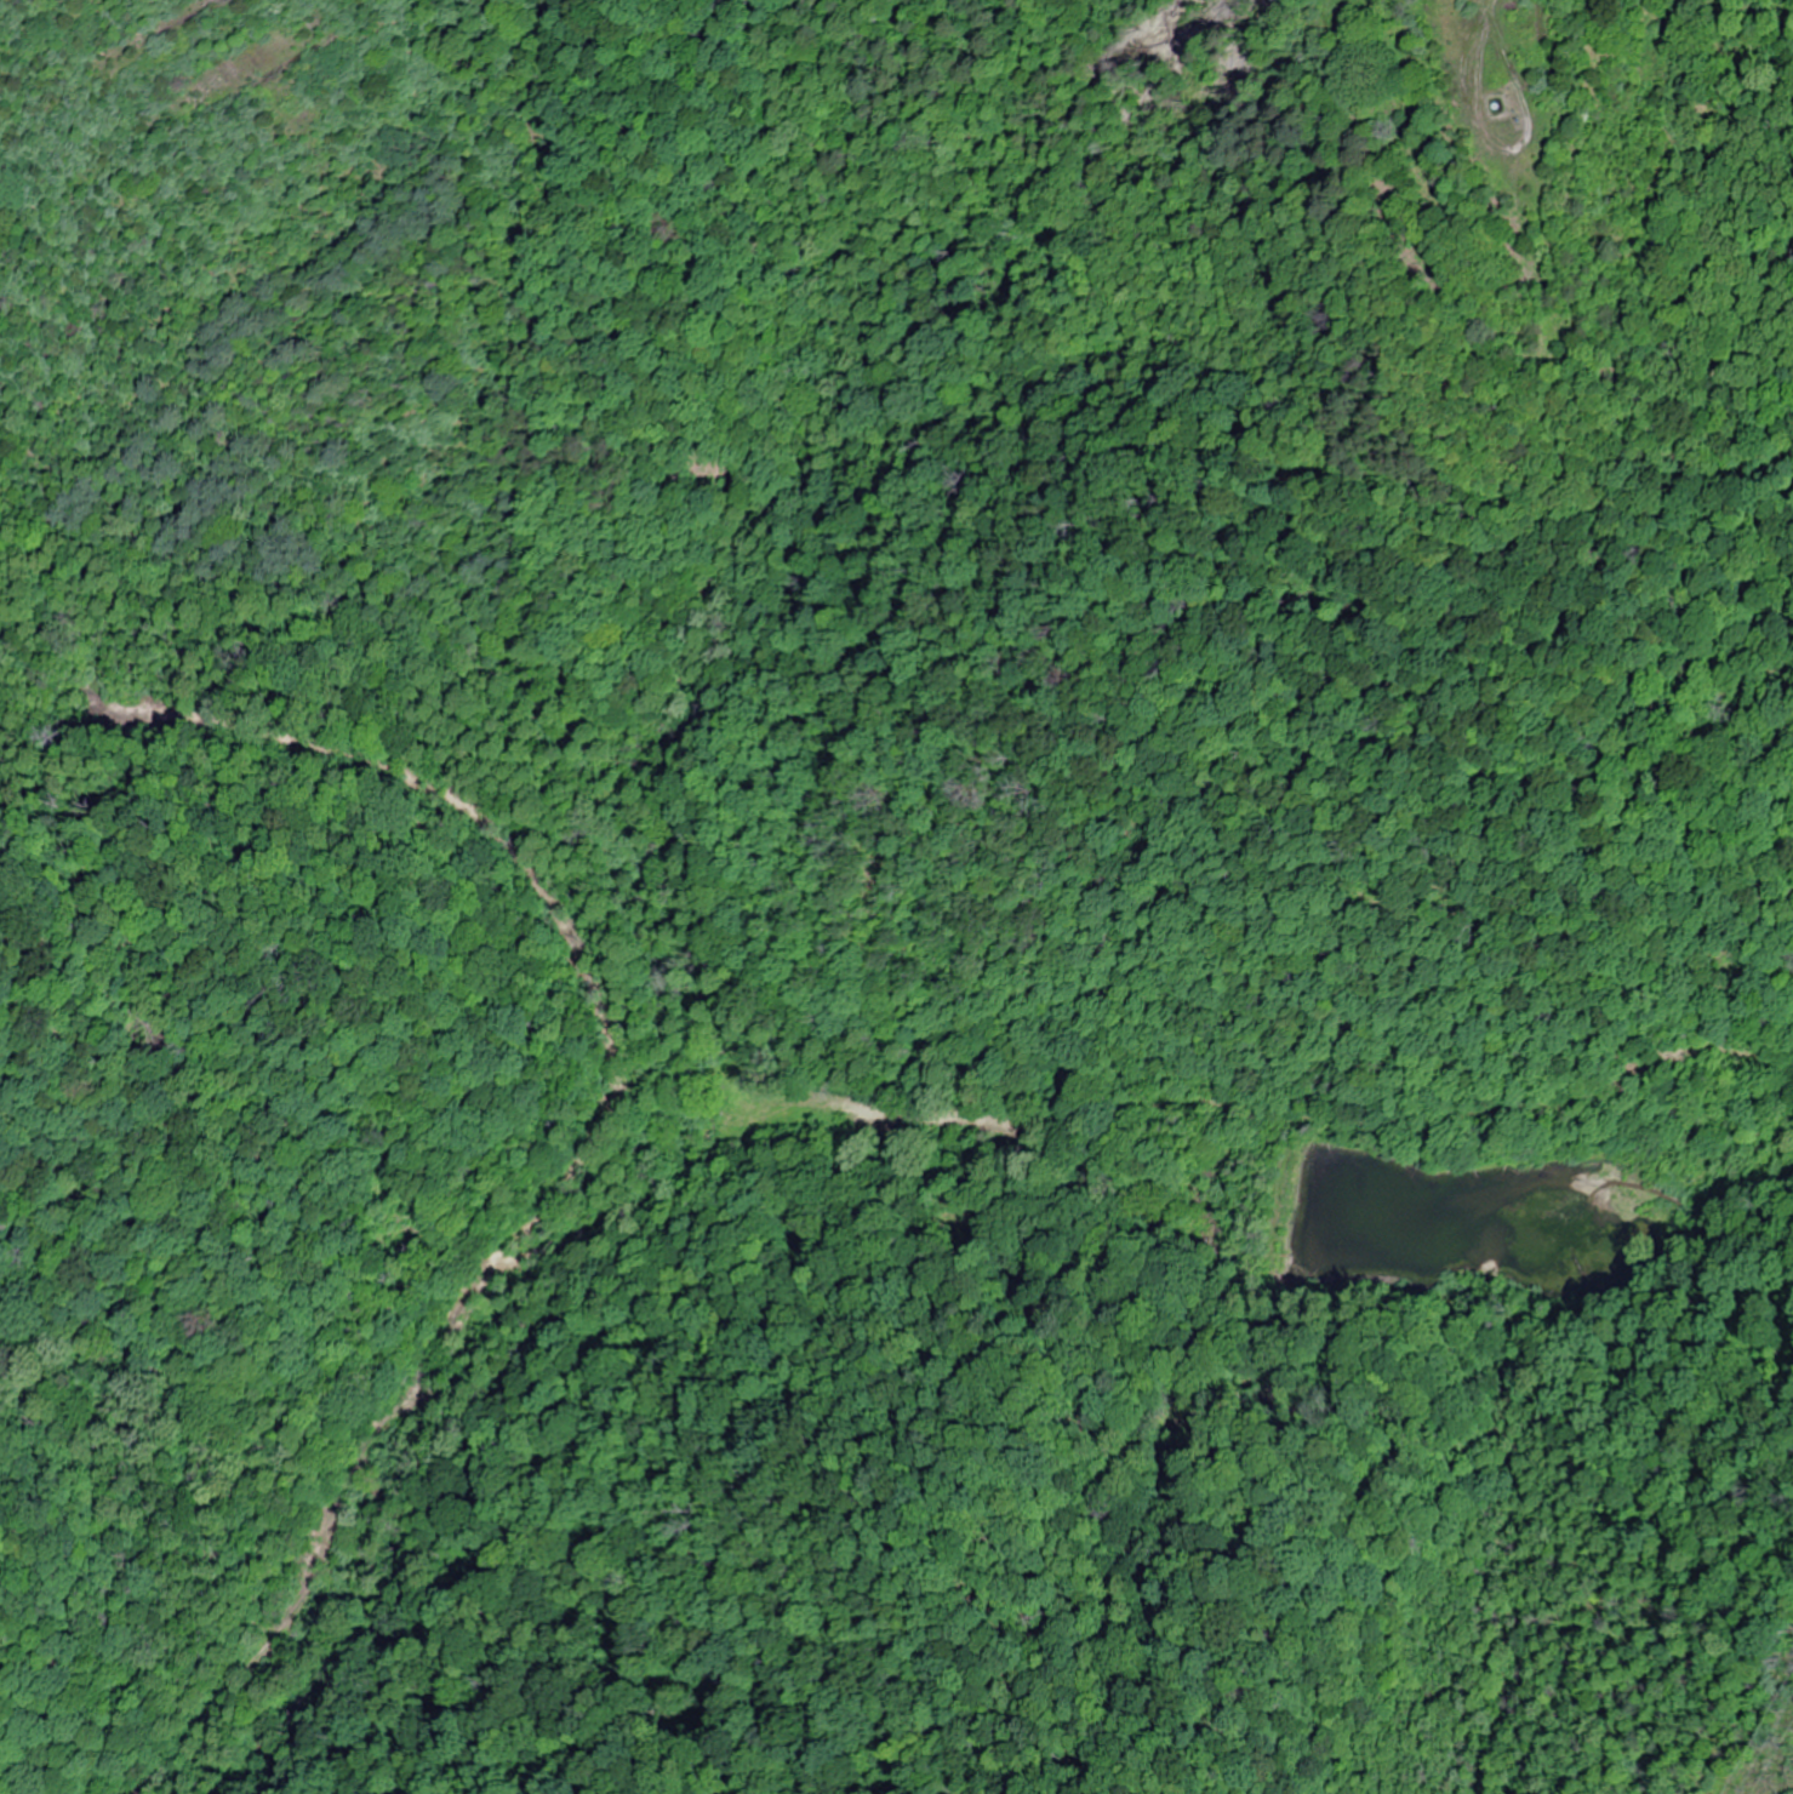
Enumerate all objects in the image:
dam: (1258, 1210)

